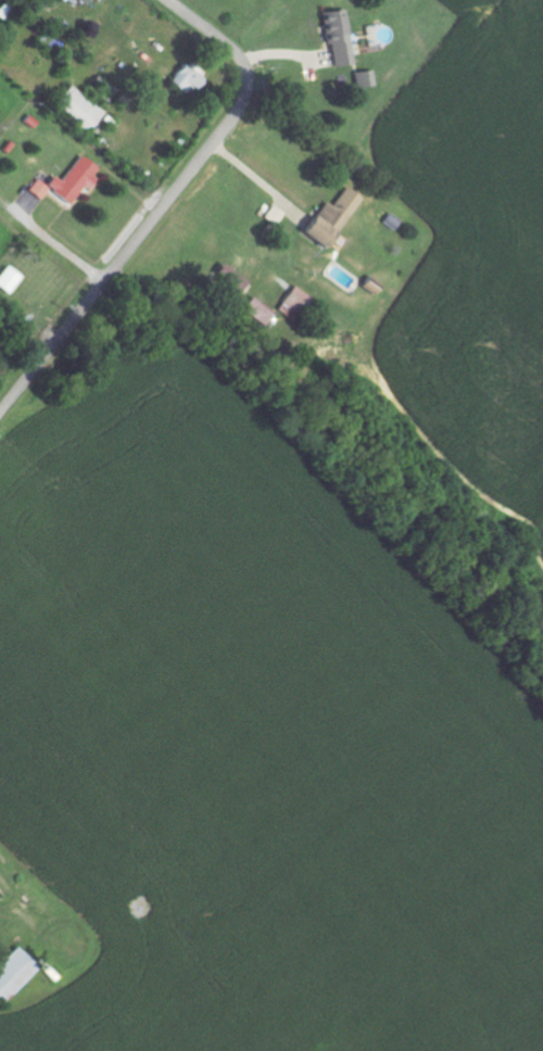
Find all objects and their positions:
building: (79, 0)
road: (187, 13)
building: (337, 37)
building: (182, 79)
building: (364, 79)
building: (77, 111)
road: (257, 178)
building: (66, 182)
building: (328, 218)
road: (151, 223)
building: (294, 303)
building: (255, 312)
building: (12, 972)

